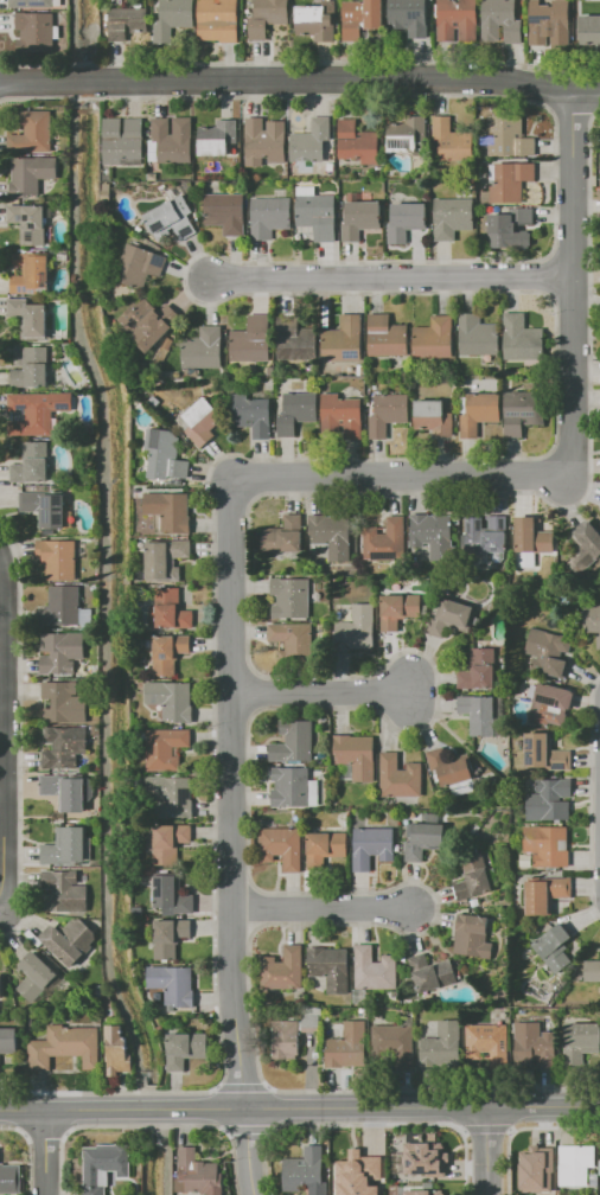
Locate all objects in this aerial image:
building: (32, 4)
building: (267, 17)
building: (172, 18)
building: (360, 18)
building: (409, 19)
building: (455, 19)
building: (219, 20)
building: (317, 20)
building: (500, 20)
building: (127, 21)
building: (549, 23)
building: (591, 28)
building: (36, 31)
road: (299, 60)
road: (300, 79)
road: (572, 110)
building: (32, 132)
building: (408, 134)
building: (509, 136)
building: (218, 138)
building: (123, 140)
building: (171, 140)
building: (452, 140)
building: (266, 142)
building: (358, 142)
building: (313, 146)
building: (31, 174)
building: (152, 177)
building: (510, 180)
building: (107, 191)
building: (225, 212)
building: (317, 212)
building: (270, 216)
building: (360, 216)
building: (452, 217)
building: (172, 218)
building: (406, 221)
building: (30, 222)
building: (508, 226)
road: (568, 256)
building: (139, 266)
building: (31, 273)
road: (545, 275)
road: (391, 276)
road: (573, 280)
road: (487, 292)
road: (567, 295)
building: (28, 317)
building: (148, 322)
building: (478, 336)
building: (387, 337)
building: (434, 338)
building: (522, 338)
building: (295, 339)
building: (344, 339)
building: (251, 340)
building: (167, 343)
building: (203, 349)
building: (32, 368)
building: (360, 369)
building: (154, 401)
building: (36, 411)
building: (296, 411)
building: (523, 411)
building: (479, 413)
building: (251, 414)
building: (388, 414)
building: (343, 415)
building: (434, 417)
building: (200, 422)
building: (165, 456)
building: (32, 464)
road: (402, 478)
building: (45, 506)
building: (170, 510)
building: (433, 533)
building: (486, 533)
building: (332, 535)
building: (535, 535)
building: (283, 536)
building: (385, 539)
building: (588, 542)
building: (58, 557)
building: (165, 557)
building: (524, 558)
building: (291, 596)
building: (60, 606)
building: (400, 609)
building: (168, 611)
building: (451, 618)
building: (593, 621)
building: (356, 628)
building: (293, 641)
building: (60, 651)
building: (548, 651)
building: (167, 652)
building: (478, 669)
road: (247, 689)
road: (323, 692)
building: (171, 699)
building: (63, 702)
building: (551, 703)
building: (483, 714)
road: (388, 721)
road: (1, 730)
road: (19, 734)
building: (294, 742)
building: (64, 746)
building: (165, 748)
building: (545, 753)
building: (357, 755)
building: (451, 766)
building: (400, 777)
building: (291, 787)
building: (65, 791)
building: (312, 792)
building: (172, 794)
road: (589, 795)
building: (549, 799)
road: (231, 838)
building: (425, 839)
building: (168, 843)
building: (372, 845)
building: (548, 845)
building: (65, 846)
building: (282, 846)
building: (325, 848)
building: (526, 859)
building: (473, 876)
building: (62, 889)
building: (545, 893)
building: (172, 894)
building: (474, 902)
road: (325, 906)
road: (253, 909)
building: (472, 935)
building: (170, 937)
building: (69, 939)
building: (554, 947)
building: (330, 967)
building: (282, 969)
building: (375, 969)
building: (593, 970)
building: (430, 971)
building: (36, 974)
building: (173, 984)
building: (1, 986)
building: (98, 992)
building: (313, 1016)
building: (286, 1040)
building: (7, 1042)
building: (395, 1043)
building: (489, 1043)
building: (581, 1043)
building: (534, 1044)
building: (442, 1046)
building: (65, 1047)
building: (349, 1047)
building: (185, 1048)
building: (117, 1049)
road: (241, 1086)
road: (299, 1106)
road: (523, 1126)
road: (485, 1129)
road: (510, 1130)
road: (490, 1149)
road: (47, 1154)
building: (423, 1158)
building: (575, 1164)
building: (103, 1165)
building: (599, 1165)
building: (355, 1168)
building: (306, 1171)
building: (199, 1172)
building: (540, 1172)
building: (9, 1178)
building: (594, 1178)
building: (422, 1191)

